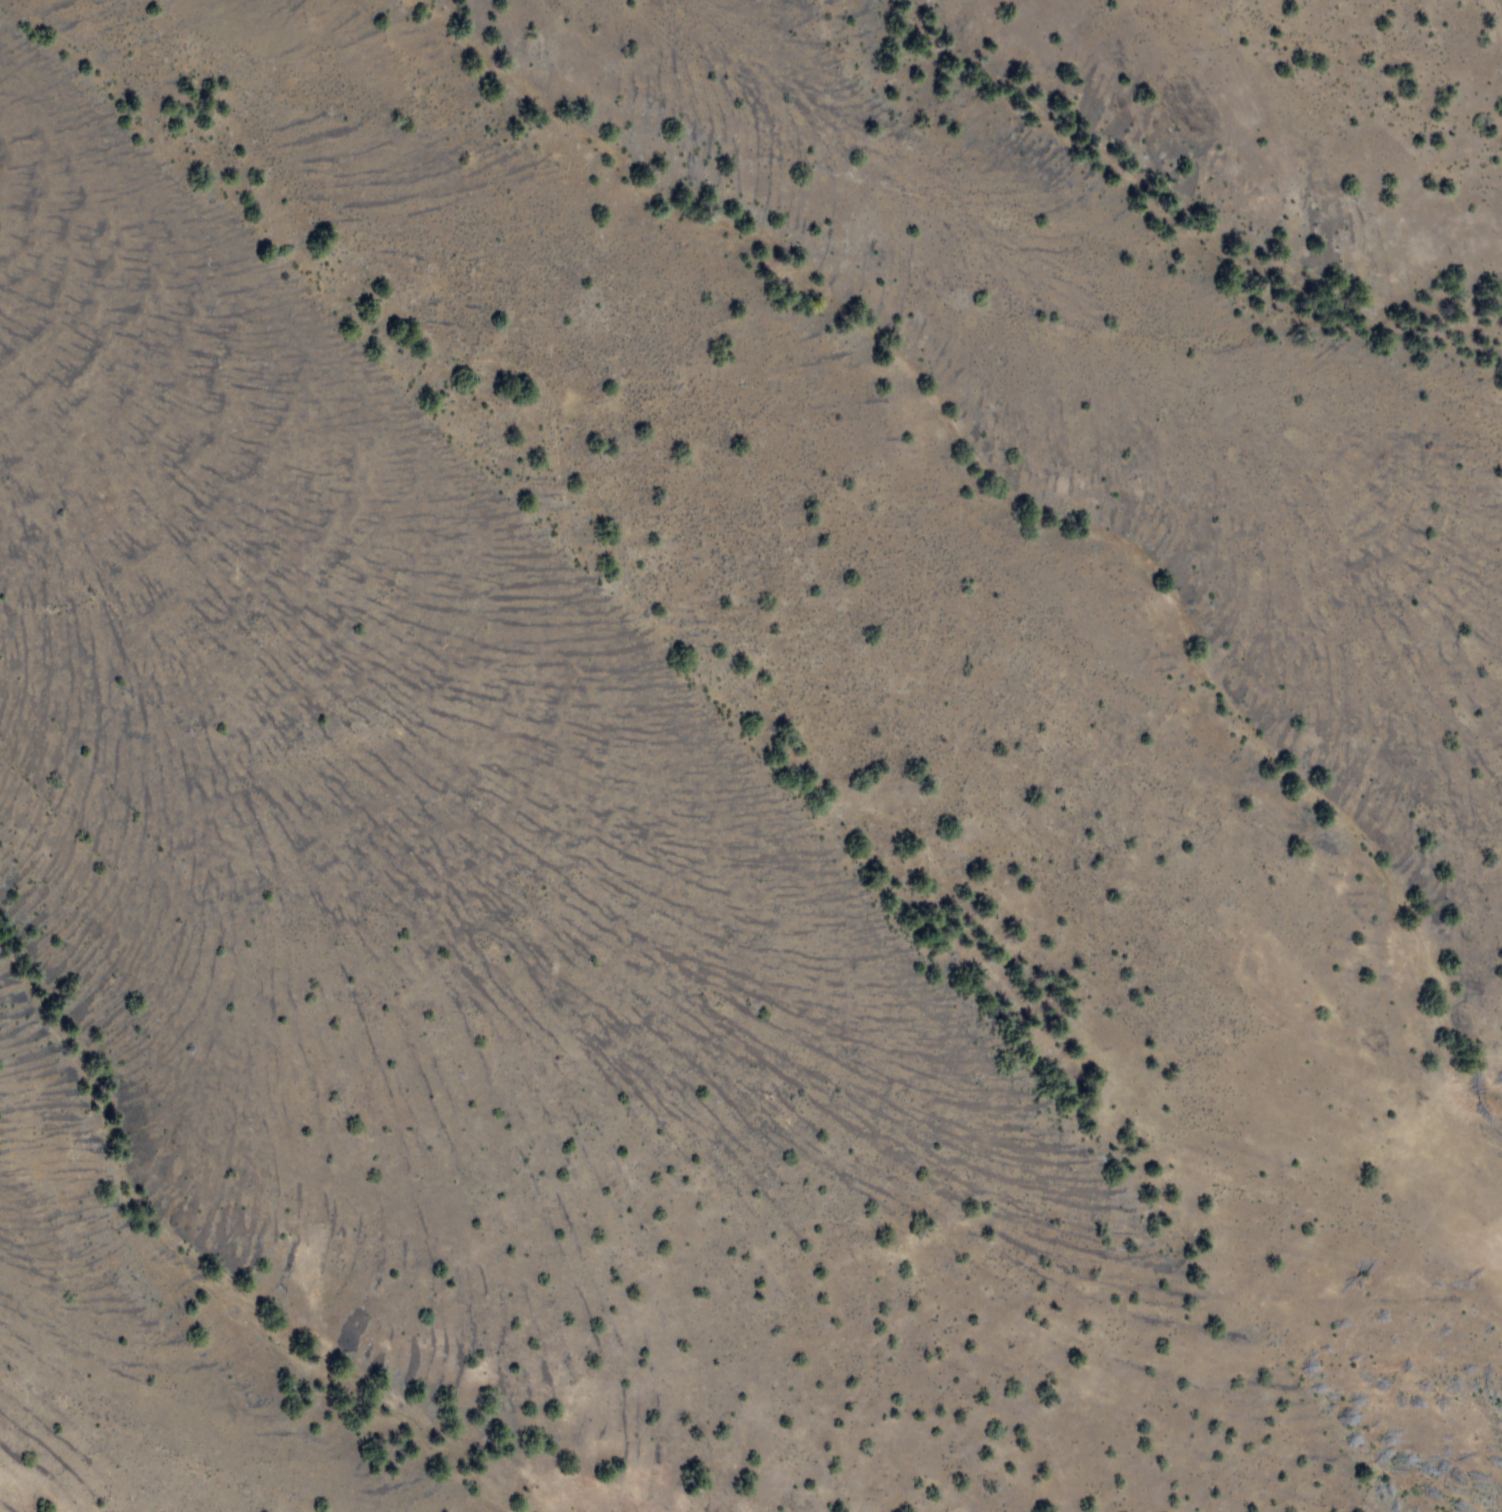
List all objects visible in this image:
road: (1494, 21)

